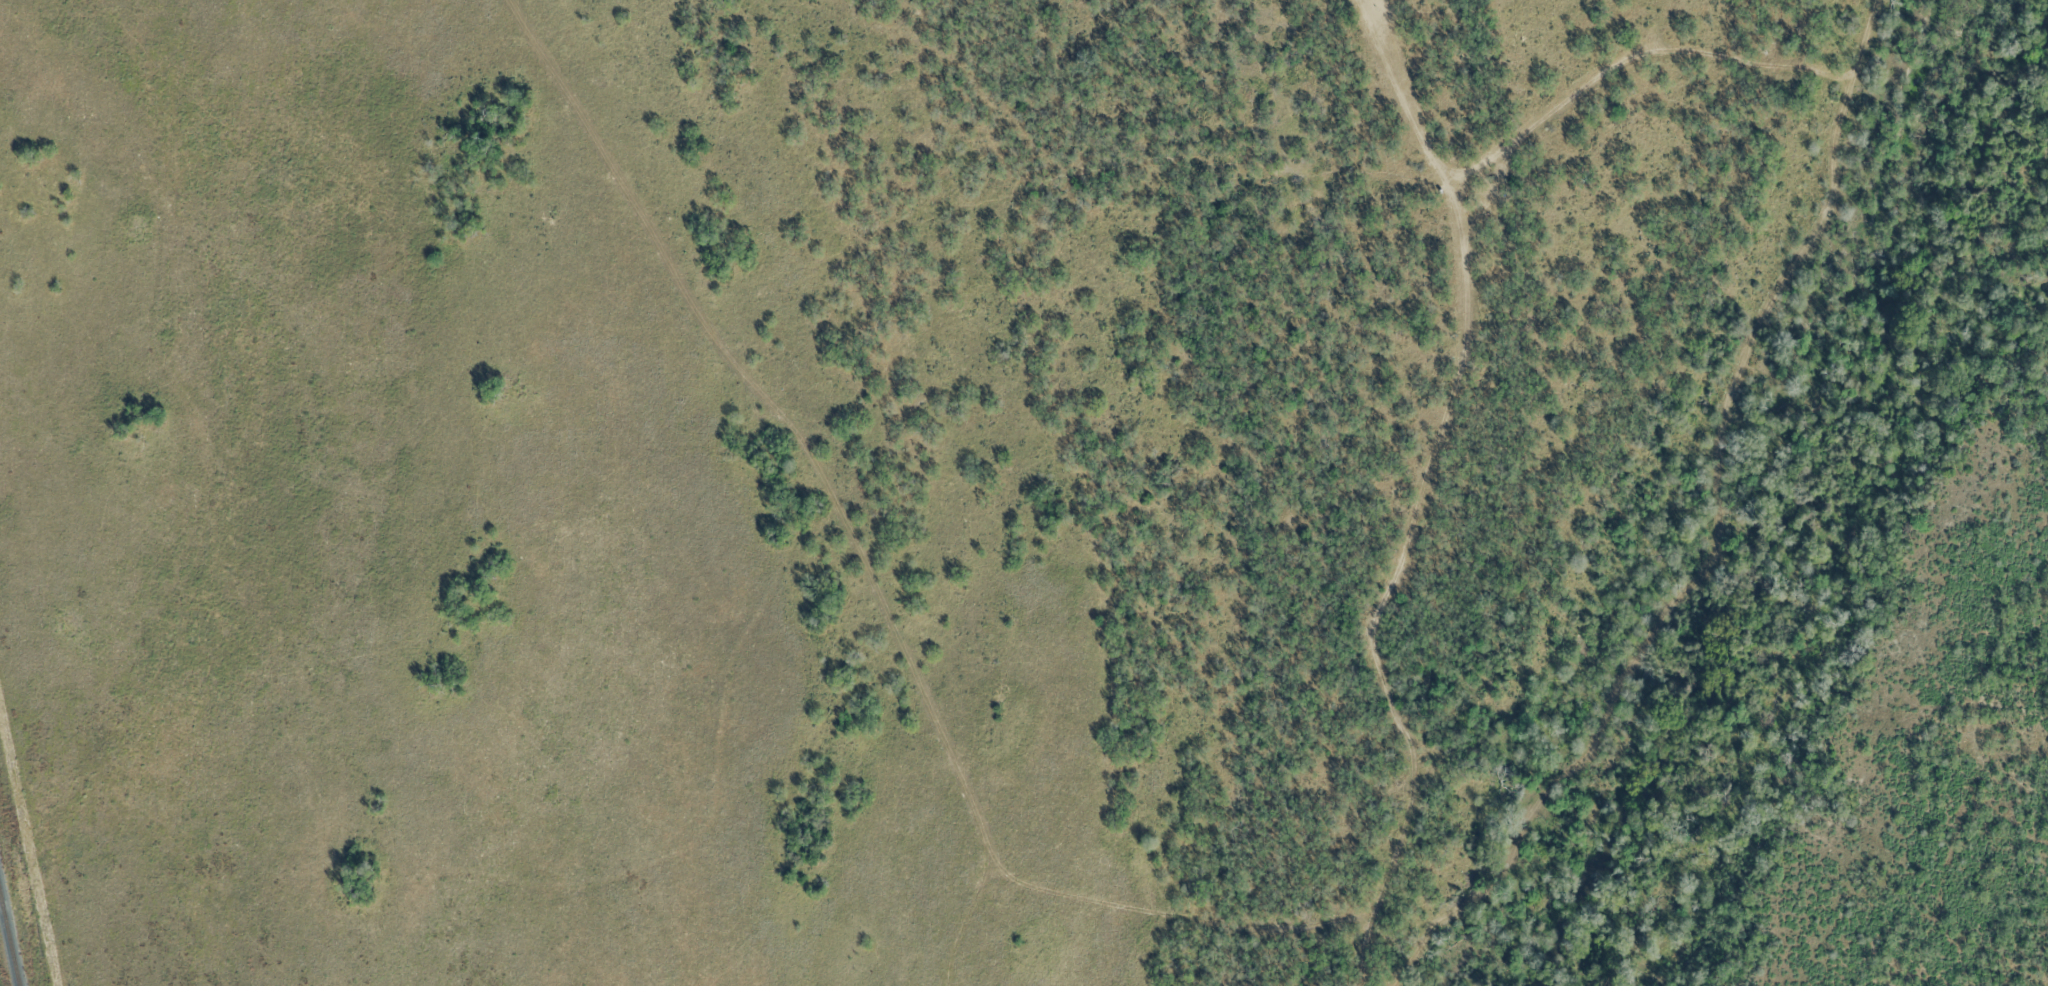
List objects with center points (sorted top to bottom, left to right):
river: (1805, 497)
railway: (9, 942)

